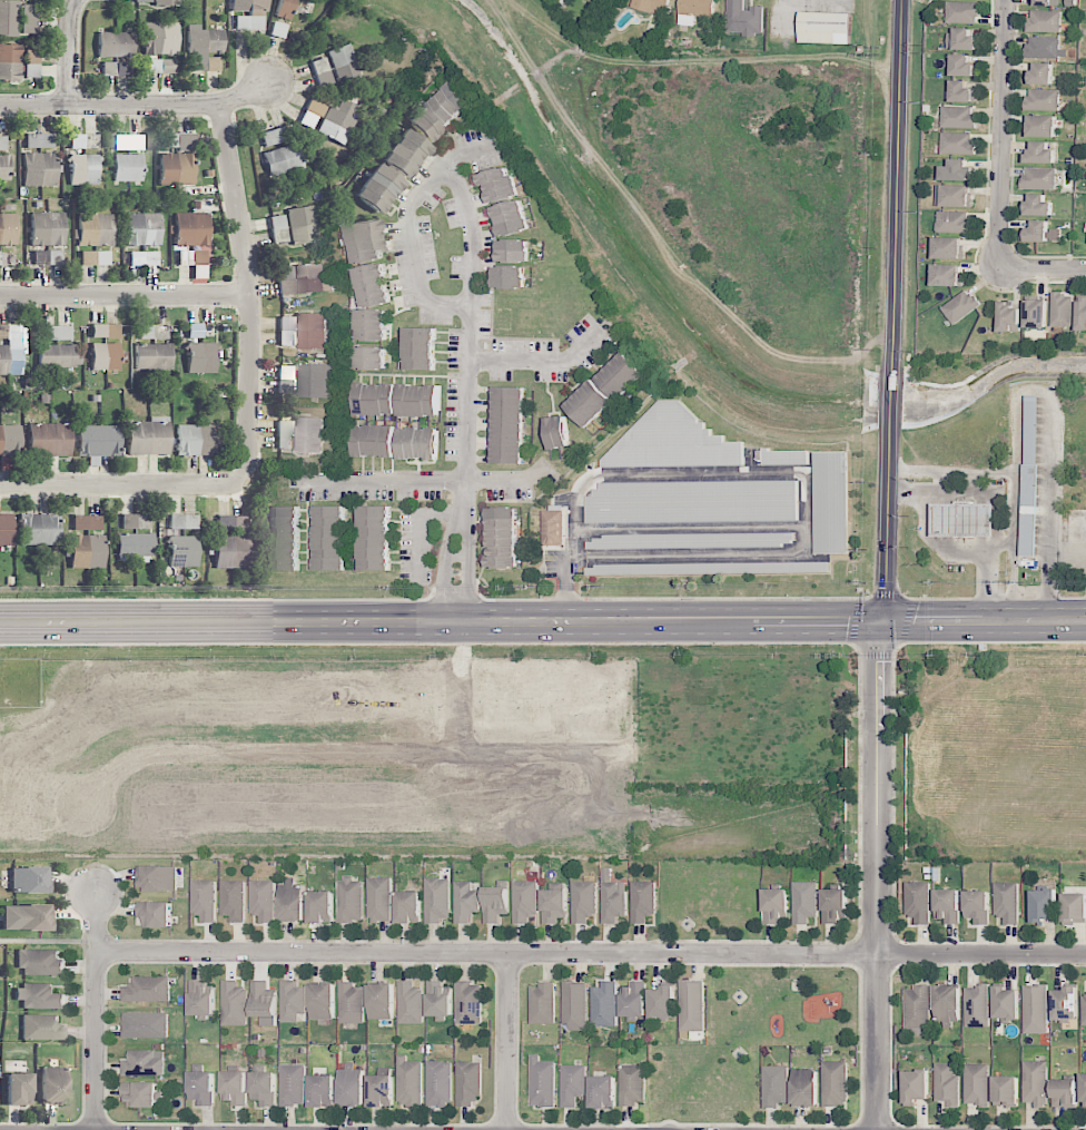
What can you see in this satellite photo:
building: (1048, 0)
building: (142, 1)
building: (167, 2)
building: (651, 6)
building: (285, 9)
building: (694, 10)
building: (251, 12)
building: (962, 12)
building: (8, 18)
building: (743, 18)
building: (28, 19)
building: (1044, 21)
building: (825, 27)
building: (277, 30)
building: (160, 38)
building: (961, 40)
building: (115, 45)
building: (1045, 47)
building: (205, 49)
road: (71, 52)
building: (10, 62)
building: (31, 62)
building: (344, 63)
building: (160, 66)
building: (962, 66)
building: (115, 69)
building: (322, 72)
building: (1040, 73)
building: (961, 91)
building: (1043, 99)
road: (140, 106)
building: (313, 114)
building: (957, 116)
building: (338, 122)
building: (1040, 126)
building: (423, 131)
road: (1000, 135)
building: (40, 140)
building: (2, 141)
building: (178, 141)
building: (128, 143)
building: (957, 143)
building: (85, 144)
building: (1039, 153)
building: (284, 160)
building: (4, 167)
building: (128, 168)
building: (39, 169)
building: (85, 169)
building: (176, 169)
building: (957, 170)
building: (1038, 178)
building: (498, 185)
building: (377, 188)
road: (897, 188)
building: (954, 195)
building: (1037, 205)
building: (511, 218)
building: (952, 222)
building: (303, 224)
road: (408, 224)
building: (47, 228)
building: (277, 228)
building: (8, 229)
building: (95, 229)
building: (144, 229)
building: (191, 229)
building: (1040, 233)
building: (364, 242)
building: (948, 247)
building: (513, 250)
building: (47, 257)
building: (6, 258)
building: (95, 258)
building: (144, 258)
road: (1041, 269)
building: (947, 275)
building: (509, 277)
building: (313, 278)
building: (286, 281)
building: (372, 285)
road: (253, 291)
road: (127, 296)
building: (960, 306)
building: (1062, 309)
building: (1035, 313)
building: (1082, 313)
building: (1008, 317)
road: (465, 320)
building: (371, 325)
building: (200, 331)
building: (286, 331)
building: (312, 331)
building: (152, 332)
building: (57, 333)
building: (10, 347)
building: (105, 347)
building: (419, 348)
building: (152, 355)
building: (59, 356)
building: (201, 357)
building: (369, 358)
road: (537, 361)
building: (314, 380)
building: (604, 389)
road: (1034, 393)
building: (396, 400)
road: (890, 402)
building: (509, 424)
building: (556, 432)
building: (284, 434)
building: (308, 434)
building: (148, 436)
building: (49, 439)
building: (9, 440)
building: (197, 440)
building: (98, 441)
building: (373, 441)
building: (672, 441)
building: (418, 443)
building: (786, 456)
building: (1028, 476)
road: (381, 480)
road: (512, 481)
road: (125, 485)
building: (693, 501)
building: (831, 502)
road: (1000, 502)
building: (966, 519)
gas station: (966, 519)
building: (86, 522)
building: (182, 522)
building: (231, 522)
road: (887, 524)
building: (554, 528)
building: (6, 530)
building: (39, 530)
building: (502, 537)
building: (136, 538)
building: (284, 538)
building: (329, 538)
building: (374, 538)
building: (691, 541)
road: (934, 542)
road: (1006, 546)
road: (1067, 548)
building: (86, 551)
building: (182, 551)
building: (231, 551)
road: (461, 552)
building: (708, 568)
traffic signals: (880, 620)
road: (983, 620)
road: (440, 622)
road: (876, 874)
building: (157, 877)
building: (29, 880)
building: (612, 897)
building: (204, 900)
building: (233, 900)
building: (261, 900)
building: (349, 900)
building: (379, 900)
building: (437, 900)
building: (290, 901)
building: (583, 901)
building: (642, 901)
building: (804, 901)
building: (917, 901)
building: (1006, 901)
building: (465, 902)
building: (525, 902)
building: (495, 903)
building: (1043, 903)
building: (554, 905)
building: (776, 905)
building: (835, 905)
building: (947, 905)
building: (320, 906)
building: (408, 906)
building: (977, 906)
building: (1074, 907)
building: (155, 913)
building: (26, 917)
road: (591, 954)
building: (40, 962)
building: (147, 989)
building: (39, 996)
building: (201, 999)
building: (438, 1000)
building: (633, 1000)
building: (292, 1001)
building: (322, 1001)
building: (381, 1001)
building: (264, 1002)
building: (662, 1002)
park: (786, 1002)
building: (234, 1003)
building: (351, 1003)
building: (409, 1003)
building: (468, 1003)
building: (542, 1003)
building: (1006, 1003)
building: (603, 1004)
building: (1065, 1004)
building: (574, 1005)
building: (692, 1005)
building: (947, 1005)
building: (977, 1005)
building: (917, 1006)
building: (1035, 1009)
building: (1084, 1010)
road: (96, 1012)
building: (145, 1024)
building: (41, 1028)
road: (509, 1042)
building: (144, 1063)
building: (409, 1081)
building: (543, 1081)
building: (468, 1082)
building: (1035, 1082)
building: (438, 1083)
building: (573, 1083)
building: (835, 1083)
building: (947, 1083)
building: (293, 1084)
building: (632, 1084)
building: (976, 1084)
building: (53, 1085)
building: (352, 1085)
building: (776, 1085)
building: (916, 1085)
building: (201, 1087)
building: (234, 1087)
building: (264, 1088)
building: (804, 1088)
building: (19, 1089)
building: (322, 1090)
building: (381, 1090)
building: (1083, 1090)
building: (603, 1091)
building: (1005, 1091)
building: (1064, 1092)
building: (139, 1093)

